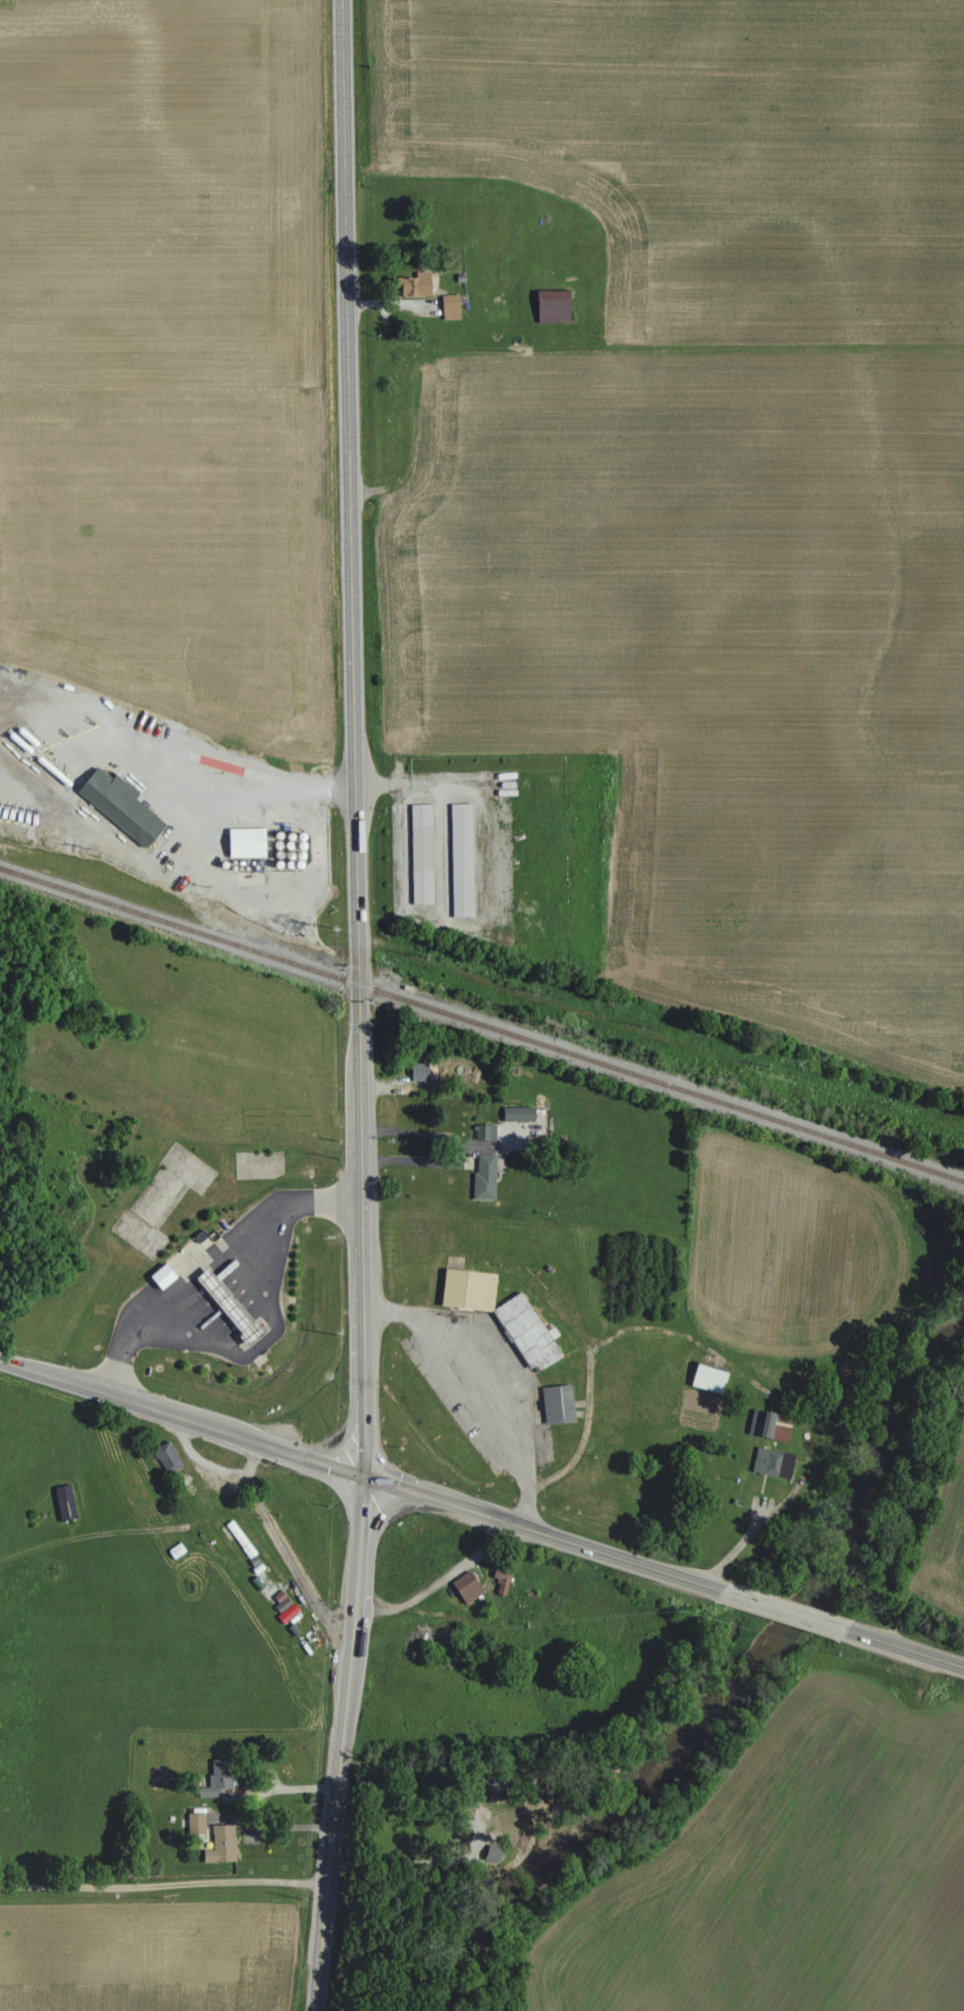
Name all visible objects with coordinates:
building: (413, 284)
building: (550, 305)
building: (449, 306)
building: (118, 804)
building: (420, 854)
building: (460, 860)
road: (361, 1006)
railway: (482, 1022)
building: (418, 1070)
building: (517, 1113)
building: (484, 1131)
road: (457, 1147)
building: (483, 1175)
road: (199, 1263)
building: (160, 1275)
building: (466, 1288)
building: (229, 1308)
building: (526, 1333)
road: (269, 1335)
road: (716, 1356)
building: (706, 1377)
road: (474, 1392)
building: (556, 1403)
building: (768, 1424)
building: (166, 1456)
building: (771, 1462)
road: (213, 1466)
road: (362, 1474)
building: (64, 1501)
building: (239, 1538)
road: (288, 1561)
building: (500, 1579)
road: (436, 1580)
building: (465, 1586)
building: (284, 1606)
road: (786, 1609)
road: (906, 1647)
building: (217, 1777)
building: (195, 1822)
building: (220, 1844)
building: (492, 1853)
road: (416, 1861)
road: (164, 1881)

